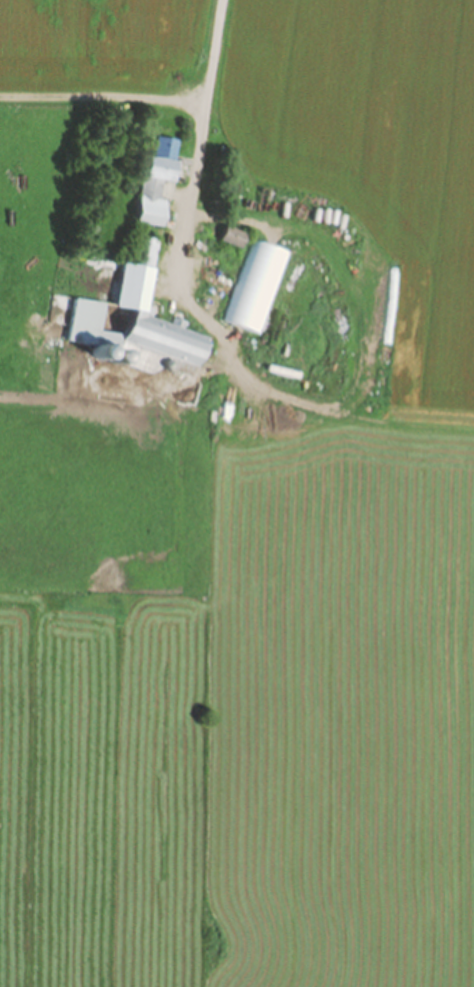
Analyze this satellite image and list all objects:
road: (100, 94)
road: (197, 122)
building: (144, 182)
building: (221, 238)
building: (249, 290)
building: (130, 324)

